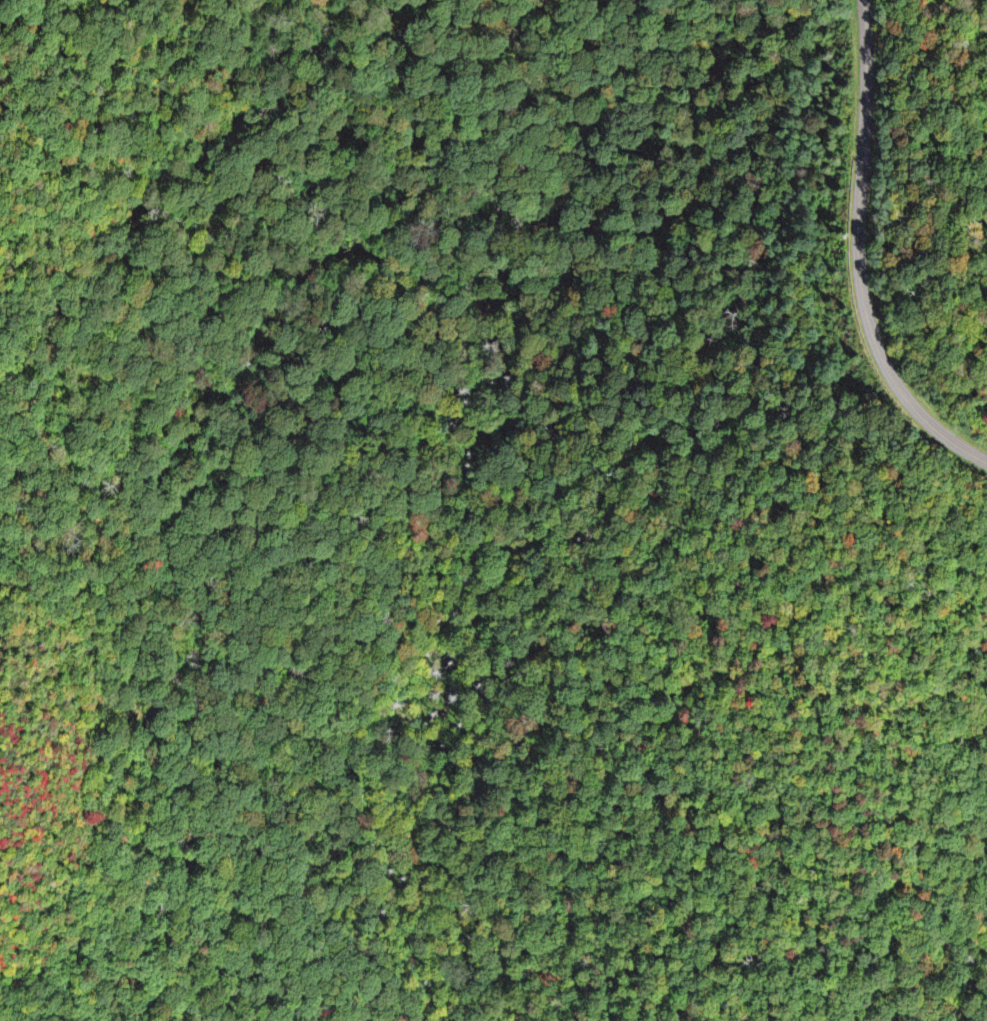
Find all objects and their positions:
road: (859, 255)

